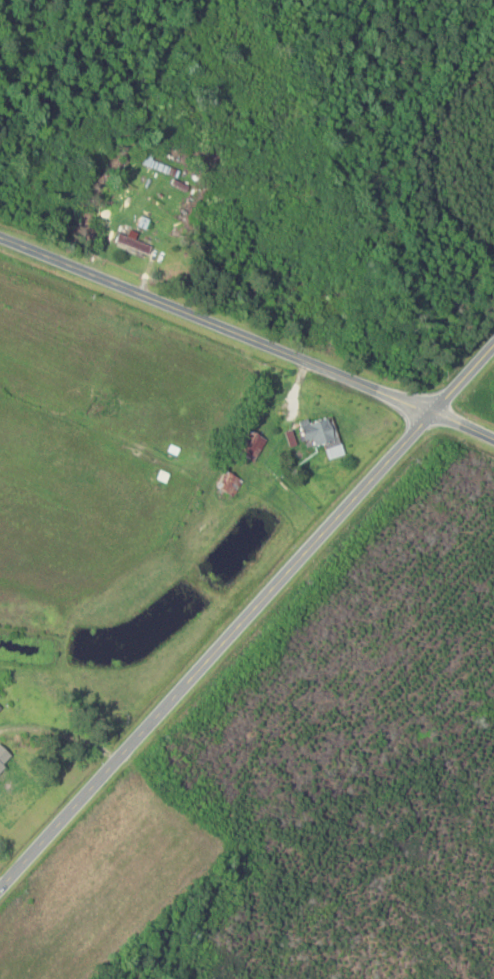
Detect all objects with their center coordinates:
road: (248, 343)
road: (246, 615)

